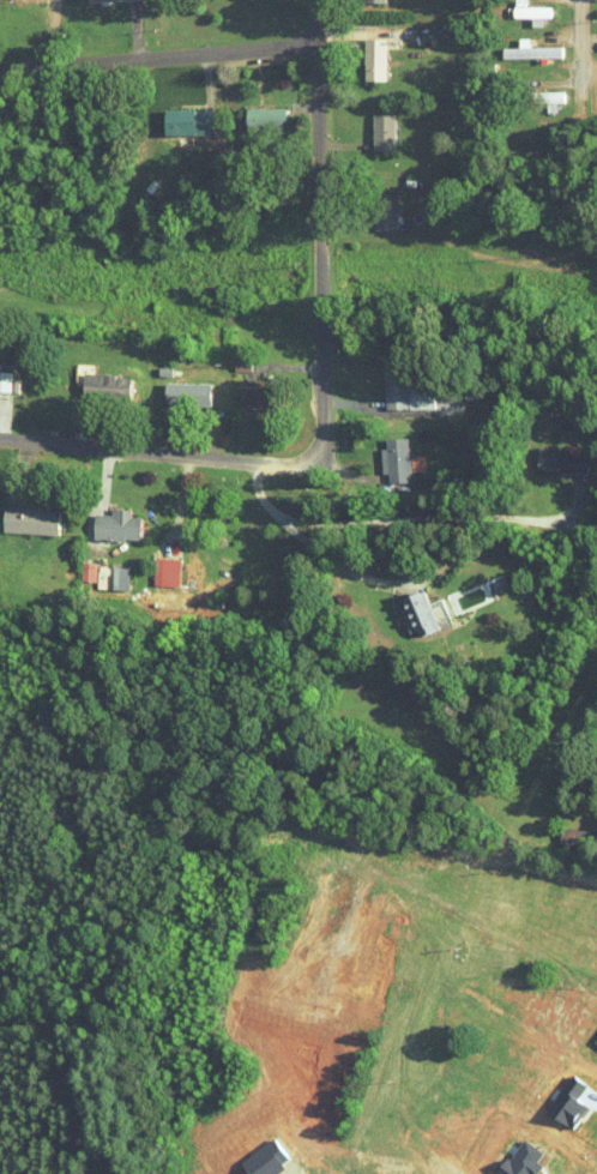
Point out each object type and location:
building: (105, 0)
road: (590, 0)
building: (372, 1)
road: (562, 11)
building: (529, 12)
road: (134, 34)
road: (346, 34)
road: (56, 40)
road: (590, 41)
road: (158, 55)
road: (562, 56)
building: (374, 60)
road: (584, 72)
road: (261, 73)
road: (206, 78)
road: (590, 86)
building: (548, 100)
road: (562, 106)
building: (265, 119)
building: (188, 122)
building: (386, 131)
road: (345, 144)
building: (411, 181)
road: (345, 197)
building: (387, 210)
road: (320, 235)
building: (7, 381)
building: (105, 385)
building: (403, 390)
building: (186, 392)
building: (257, 396)
road: (362, 402)
road: (91, 421)
road: (206, 429)
road: (163, 454)
building: (562, 459)
building: (397, 460)
road: (362, 474)
road: (20, 477)
road: (107, 486)
road: (267, 498)
building: (29, 519)
road: (297, 522)
road: (470, 522)
building: (116, 524)
building: (192, 568)
building: (164, 571)
building: (422, 613)
road: (512, 979)
building: (512, 1006)
road: (538, 1109)

